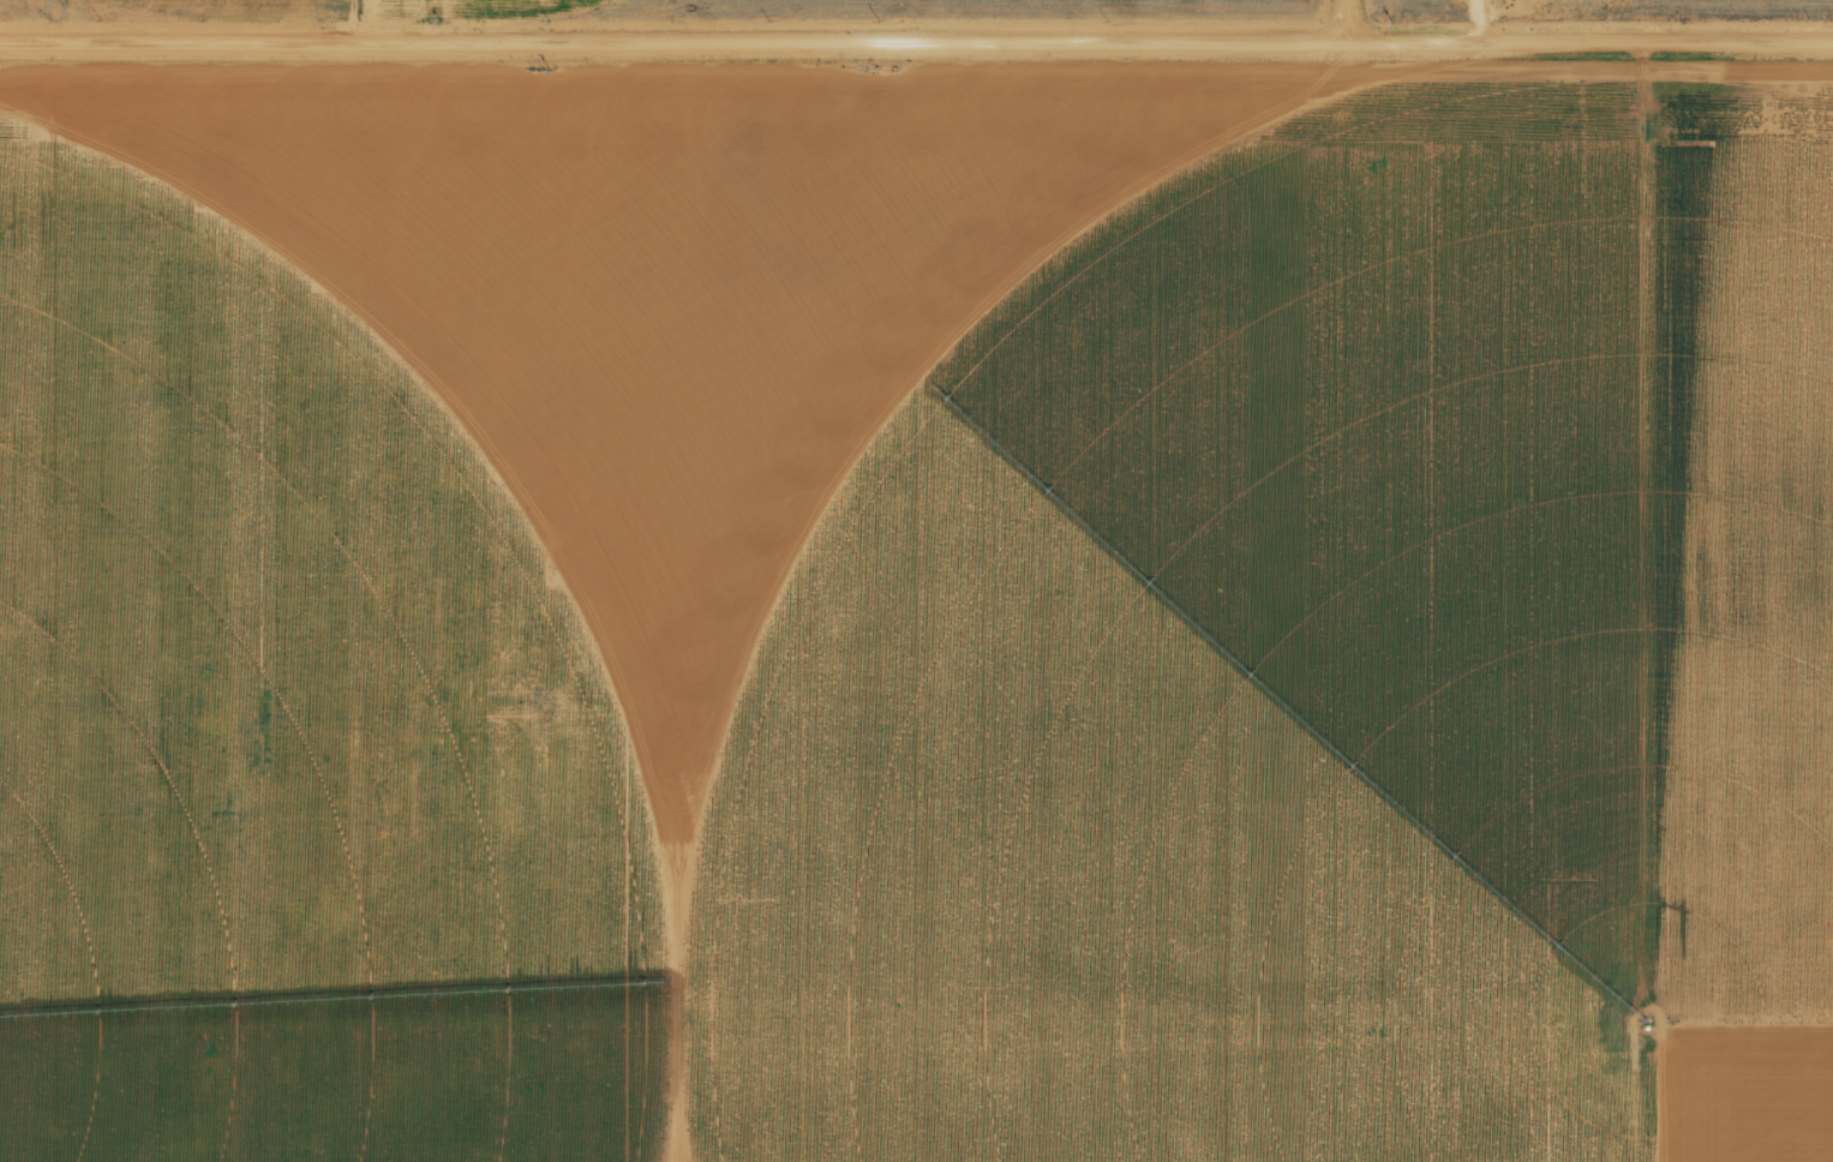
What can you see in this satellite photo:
road: (1348, 5)
road: (916, 19)

